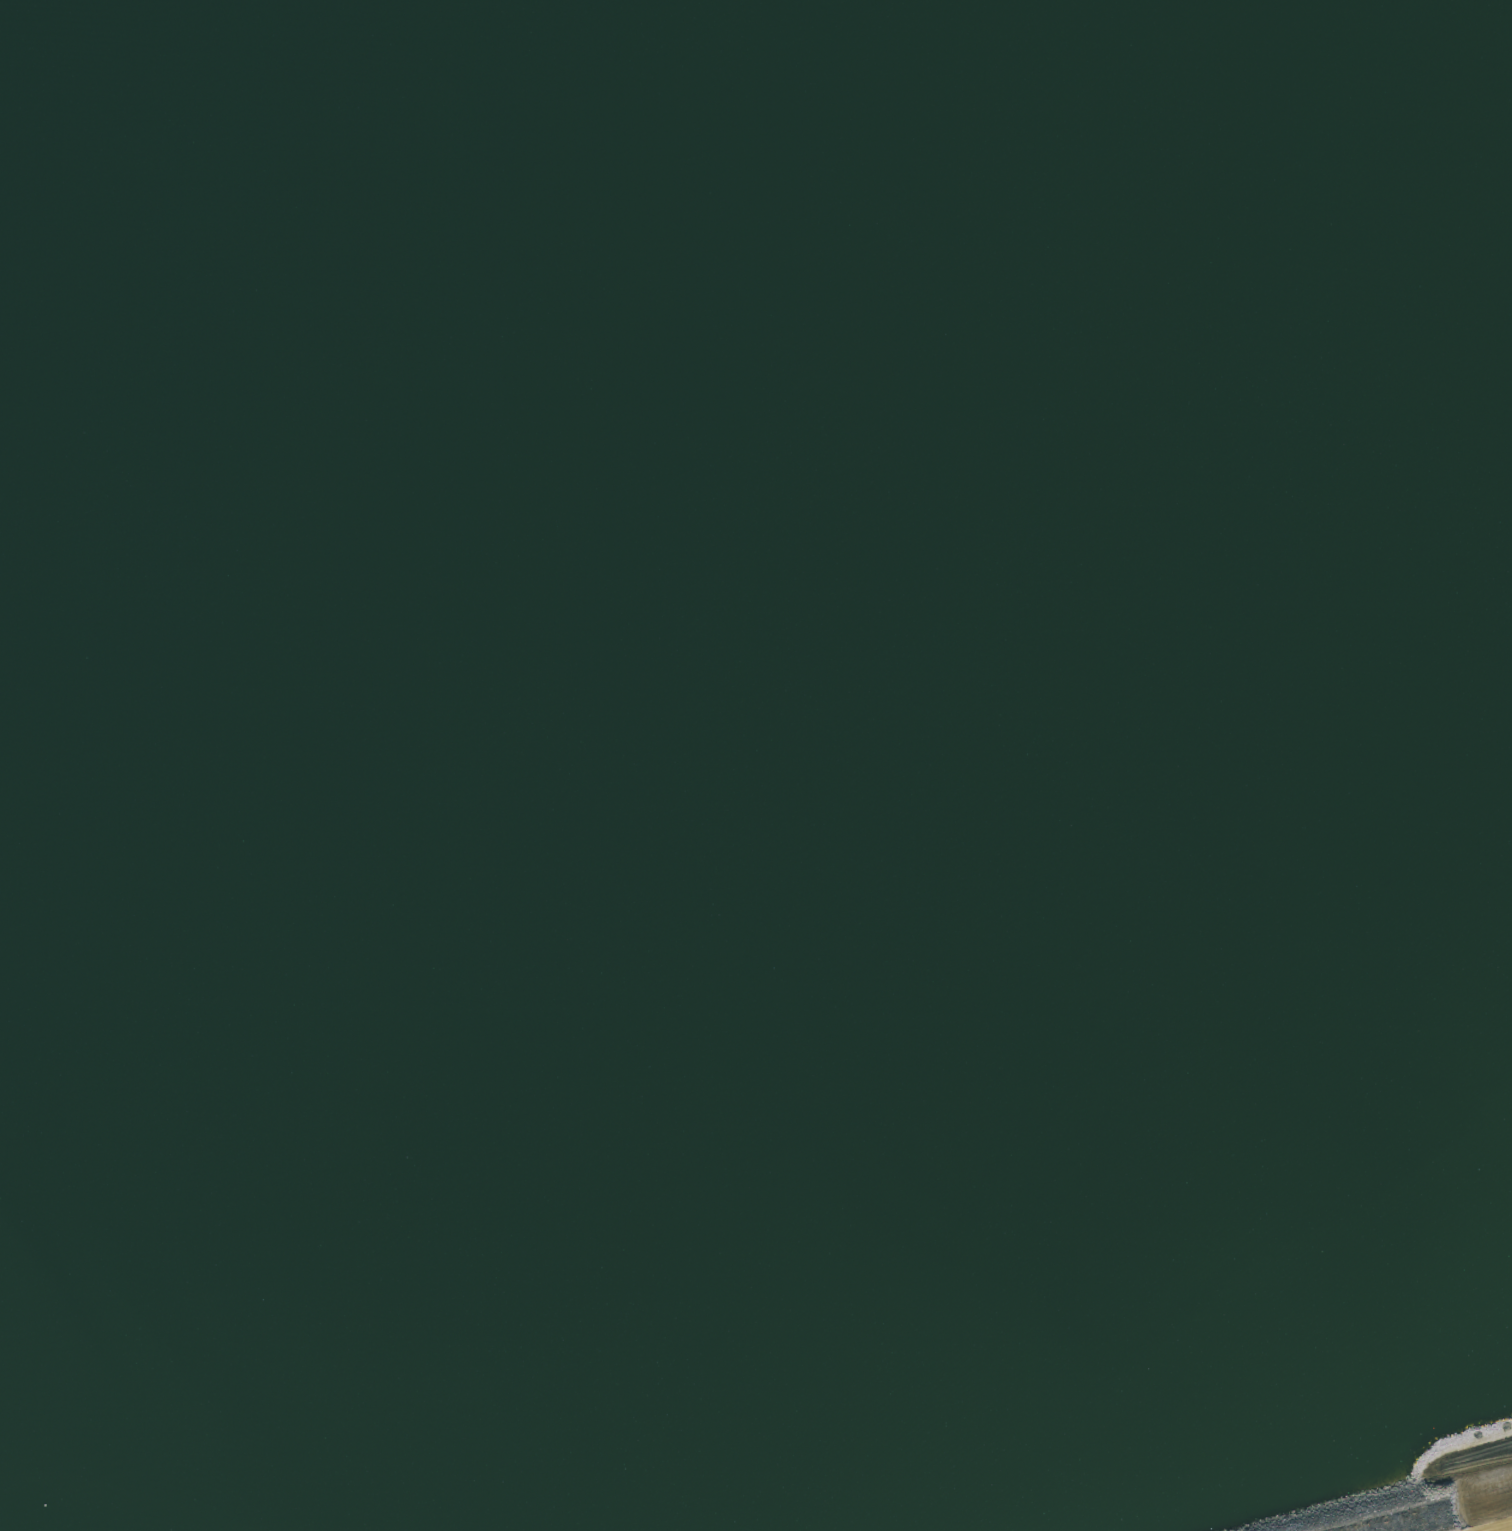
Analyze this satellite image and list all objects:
dam: (1413, 1506)
road: (1496, 1527)

